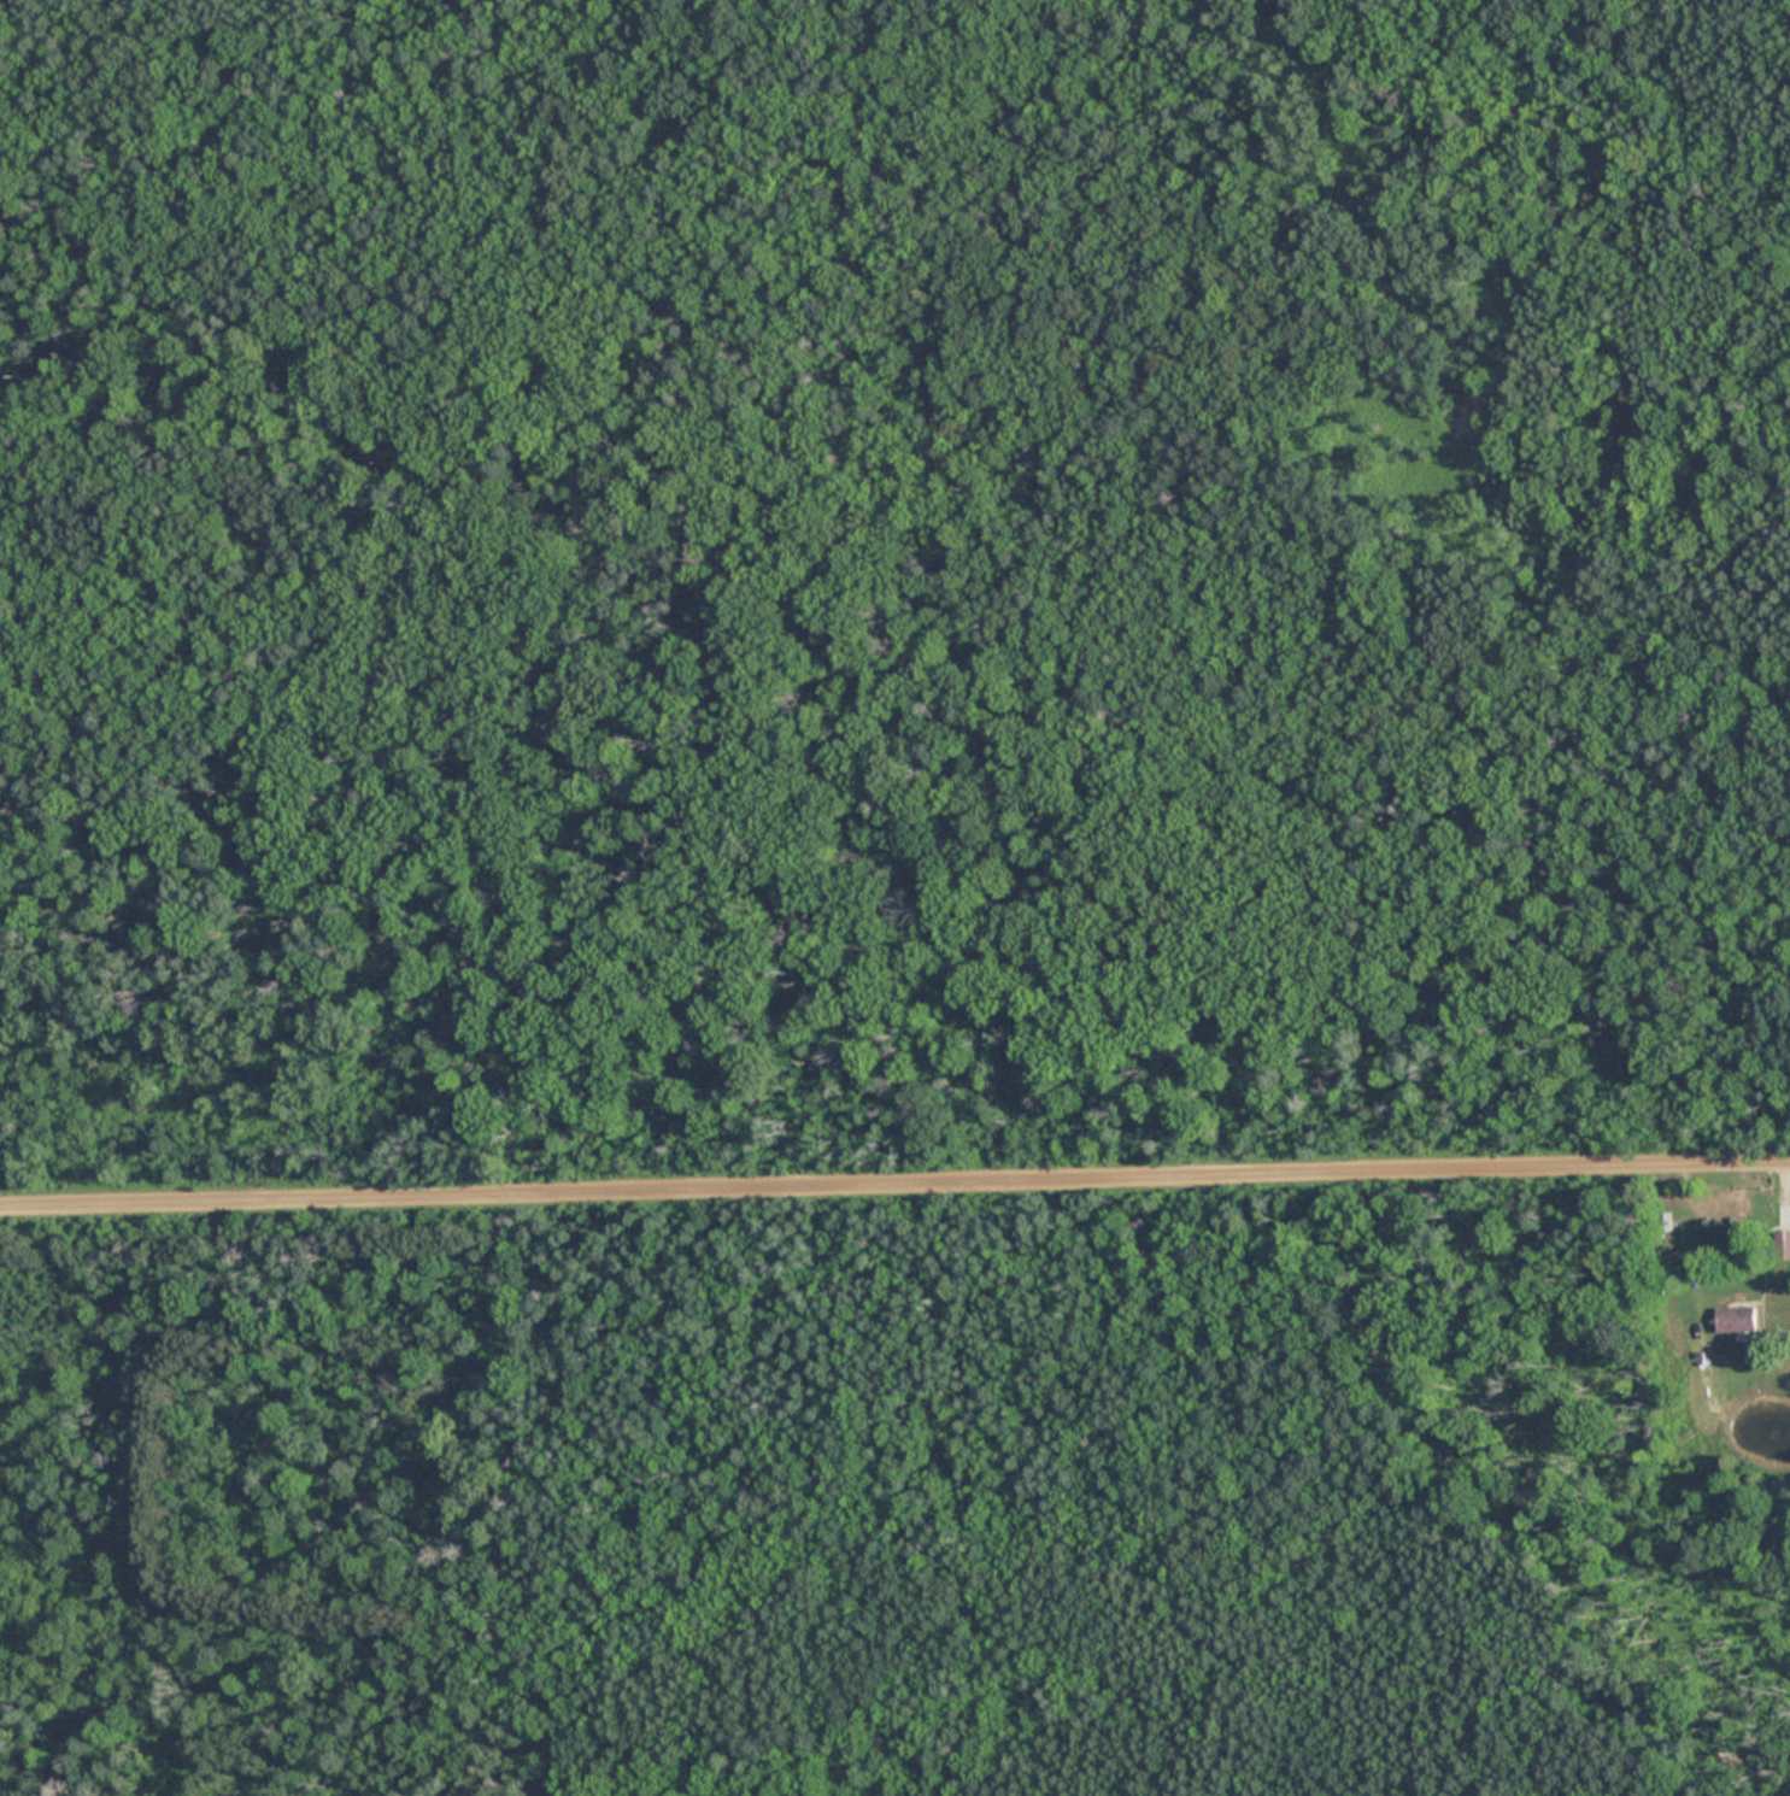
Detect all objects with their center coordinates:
park: (870, 881)
road: (894, 1187)
building: (1736, 1319)

